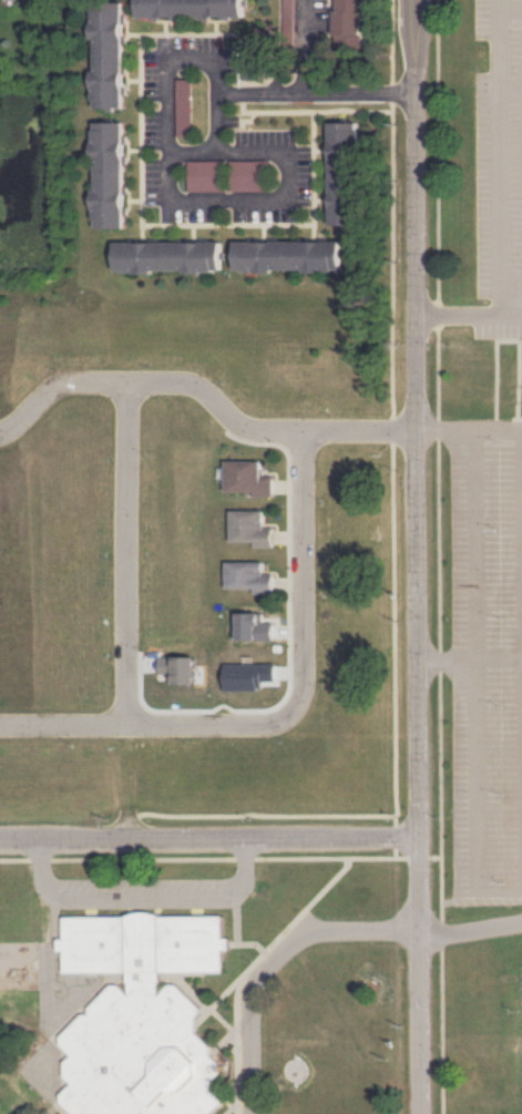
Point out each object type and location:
building: (190, 8)
road: (512, 8)
building: (288, 19)
building: (350, 23)
road: (306, 48)
building: (109, 54)
road: (317, 95)
building: (184, 106)
road: (191, 152)
road: (502, 156)
building: (344, 173)
building: (110, 174)
building: (226, 175)
road: (204, 198)
building: (289, 255)
building: (168, 256)
road: (470, 315)
road: (207, 396)
road: (473, 430)
building: (250, 478)
building: (253, 528)
road: (423, 556)
road: (129, 558)
building: (252, 576)
building: (257, 626)
road: (500, 656)
road: (479, 681)
road: (280, 711)
road: (211, 839)
road: (143, 897)
road: (471, 927)
road: (274, 962)
building: (143, 1015)

